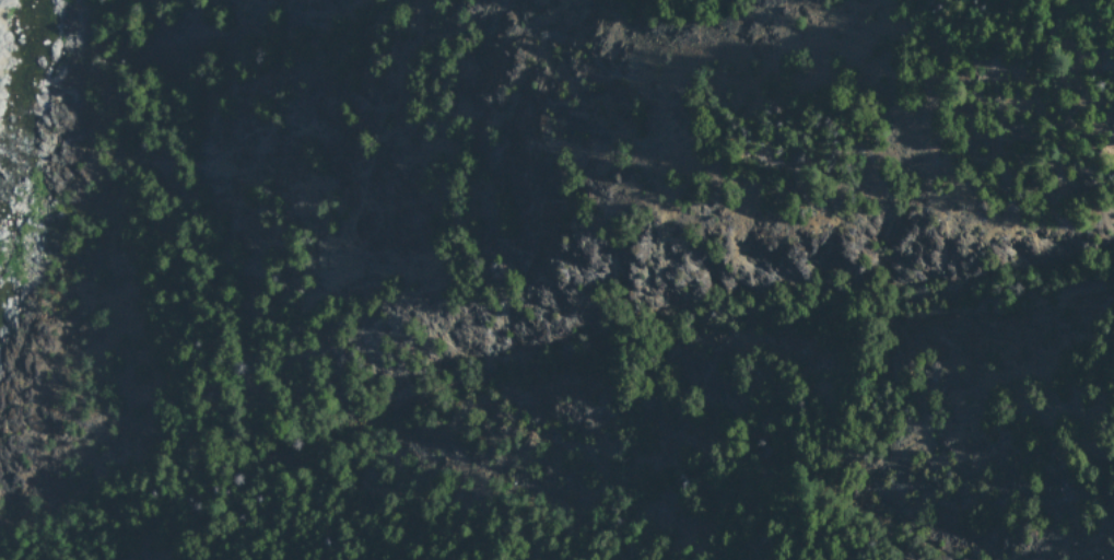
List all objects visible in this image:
river: (13, 119)

